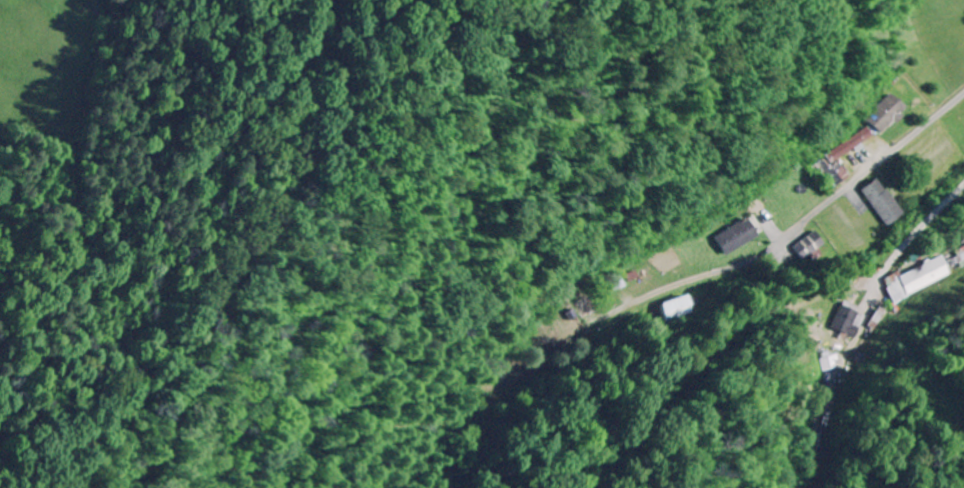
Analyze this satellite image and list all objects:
building: (886, 114)
building: (833, 173)
road: (848, 187)
building: (885, 203)
road: (924, 226)
building: (738, 237)
building: (811, 246)
building: (961, 255)
building: (922, 280)
building: (619, 284)
building: (681, 309)
building: (832, 362)

